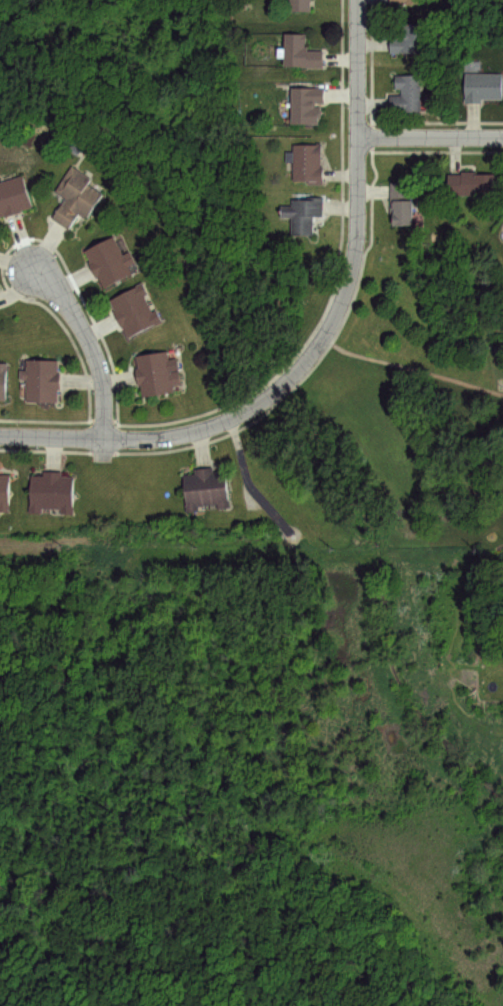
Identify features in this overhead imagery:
building: (407, 2)
building: (300, 5)
building: (409, 39)
building: (300, 52)
building: (482, 86)
building: (405, 94)
building: (306, 104)
road: (431, 136)
building: (307, 164)
building: (472, 183)
building: (13, 196)
building: (76, 197)
building: (400, 204)
building: (303, 214)
building: (110, 261)
road: (342, 297)
building: (133, 310)
road: (87, 345)
building: (155, 374)
building: (41, 380)
building: (2, 381)
road: (52, 435)
building: (206, 488)
building: (50, 491)
building: (4, 494)
building: (501, 567)

